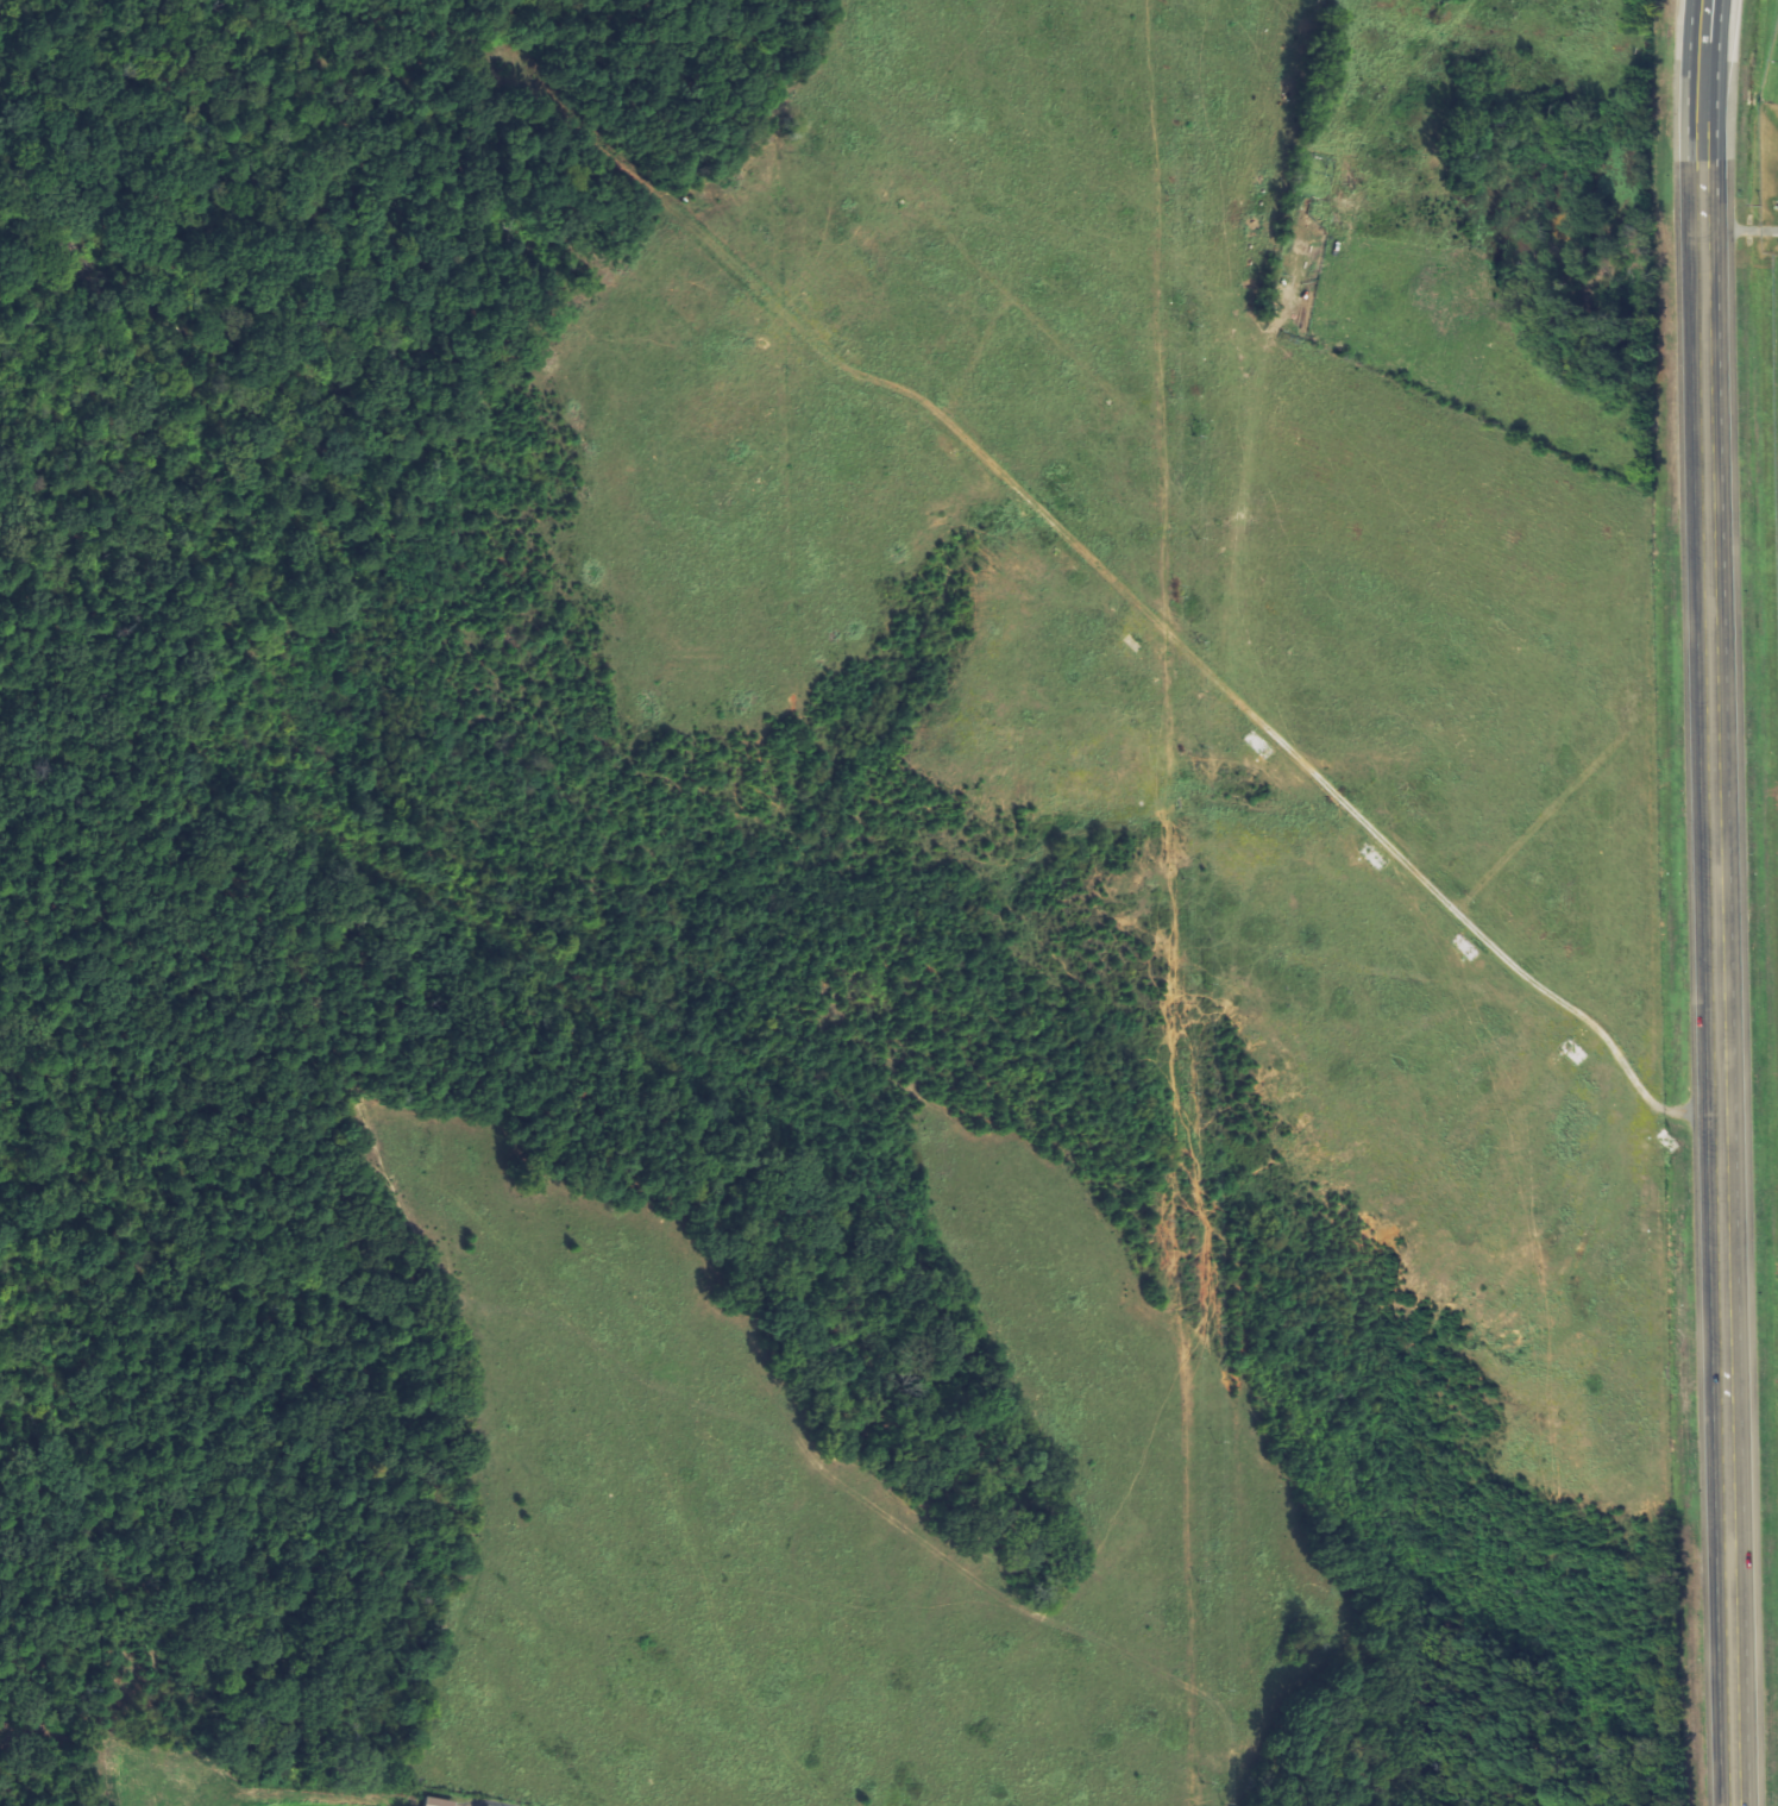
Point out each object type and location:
road: (1705, 25)
road: (1719, 26)
airport: (1776, 333)
road: (1719, 928)

